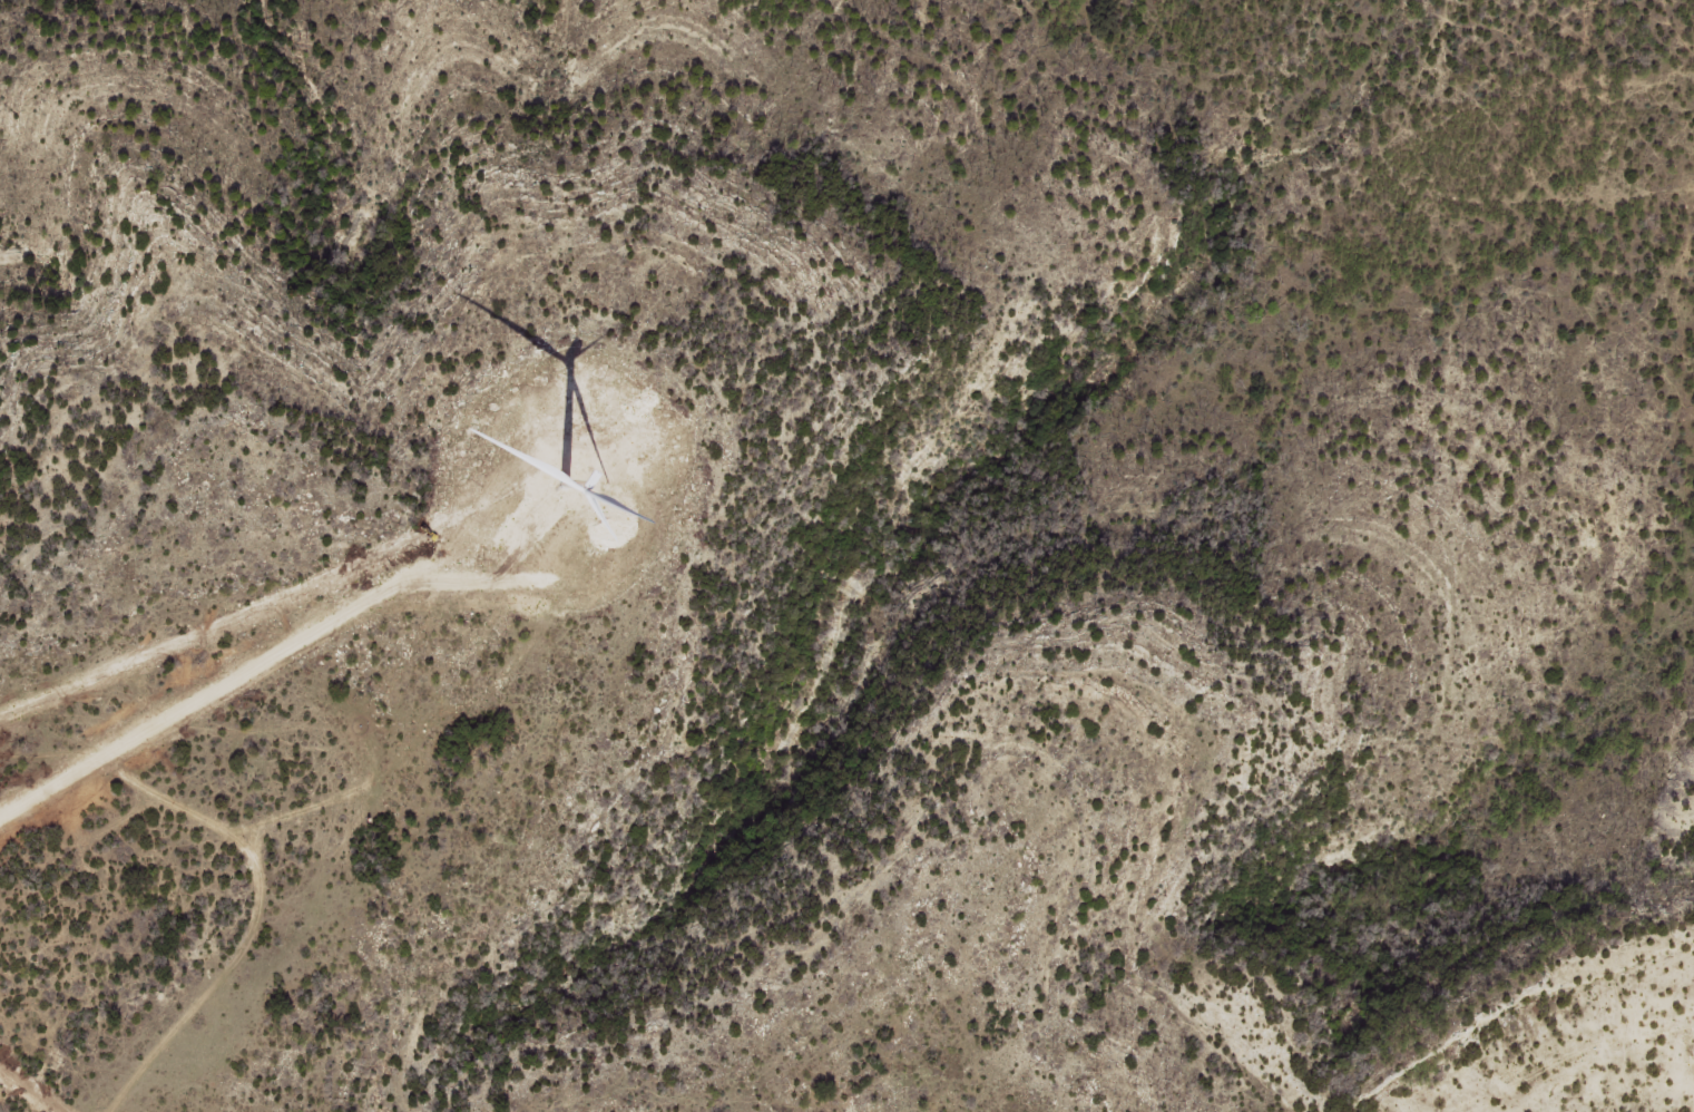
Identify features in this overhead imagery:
wind turbine: (572, 453)

